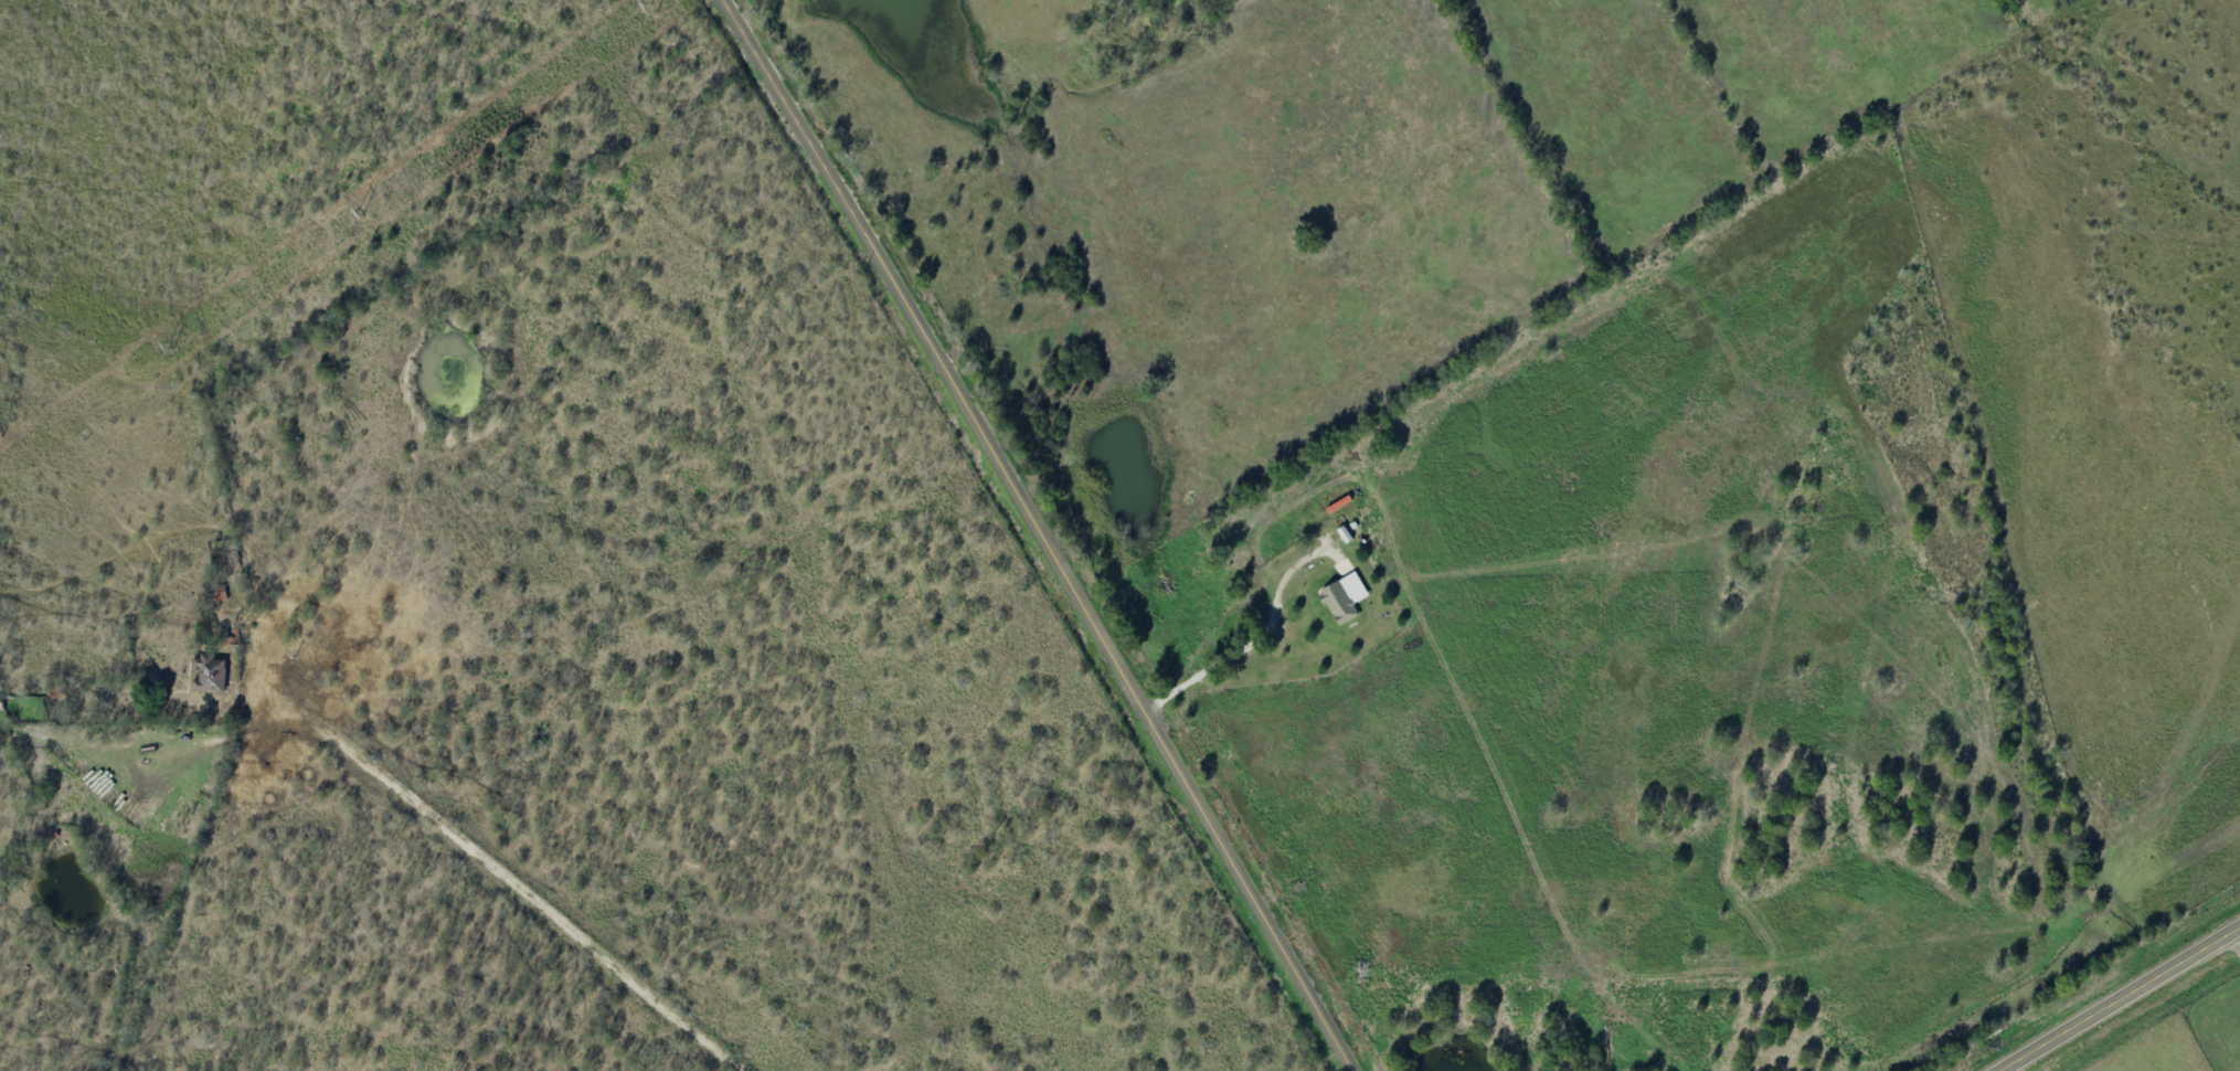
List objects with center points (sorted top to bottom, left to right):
power tower: (654, 4)
power tower: (363, 210)
power tower: (172, 343)
road: (1039, 533)
building: (1345, 600)
building: (215, 676)
road: (478, 881)
road: (2237, 941)
road: (2126, 1001)

